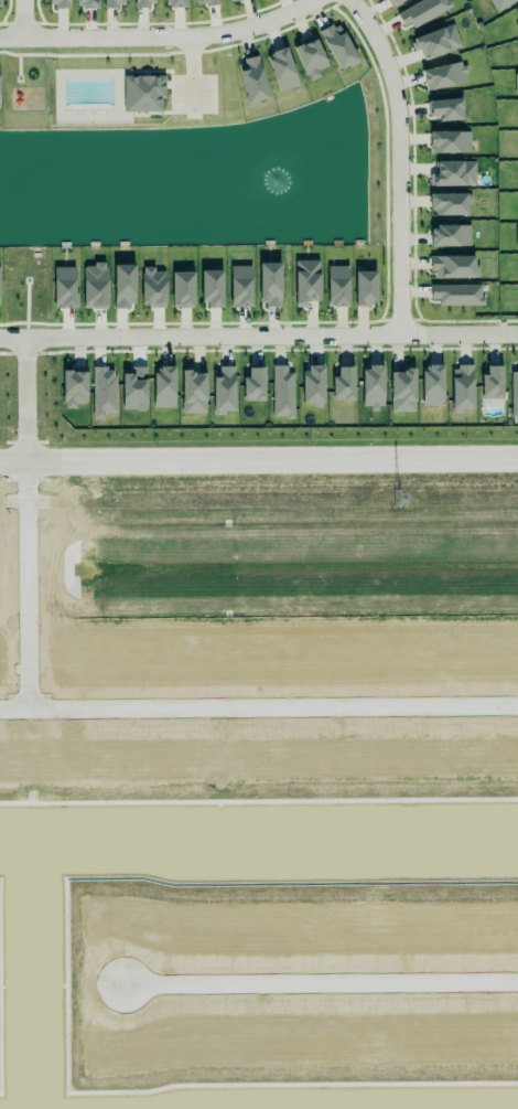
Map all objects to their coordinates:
building: (206, 1)
building: (234, 1)
building: (110, 2)
building: (142, 2)
building: (393, 2)
building: (0, 3)
building: (58, 3)
building: (86, 3)
building: (175, 3)
building: (499, 3)
building: (517, 11)
building: (421, 12)
road: (15, 19)
building: (516, 26)
road: (164, 36)
building: (436, 42)
building: (517, 44)
building: (338, 46)
building: (307, 57)
building: (281, 67)
building: (444, 76)
building: (252, 79)
building: (516, 84)
building: (143, 93)
building: (445, 109)
building: (450, 142)
road: (400, 164)
building: (453, 173)
building: (447, 203)
building: (450, 231)
building: (516, 238)
building: (453, 266)
building: (268, 279)
building: (306, 281)
building: (94, 286)
building: (123, 286)
building: (182, 286)
building: (240, 286)
building: (337, 286)
building: (63, 287)
building: (152, 288)
building: (212, 288)
building: (365, 288)
building: (456, 294)
road: (259, 340)
building: (253, 378)
building: (312, 380)
building: (432, 381)
building: (492, 383)
building: (343, 384)
building: (164, 386)
building: (373, 386)
building: (74, 387)
building: (401, 387)
building: (136, 388)
building: (461, 388)
building: (223, 391)
building: (104, 392)
building: (193, 392)
building: (282, 392)
building: (514, 393)
road: (10, 397)
road: (258, 451)
power tower: (396, 500)
road: (25, 579)
road: (271, 704)
road: (12, 706)
road: (320, 982)

